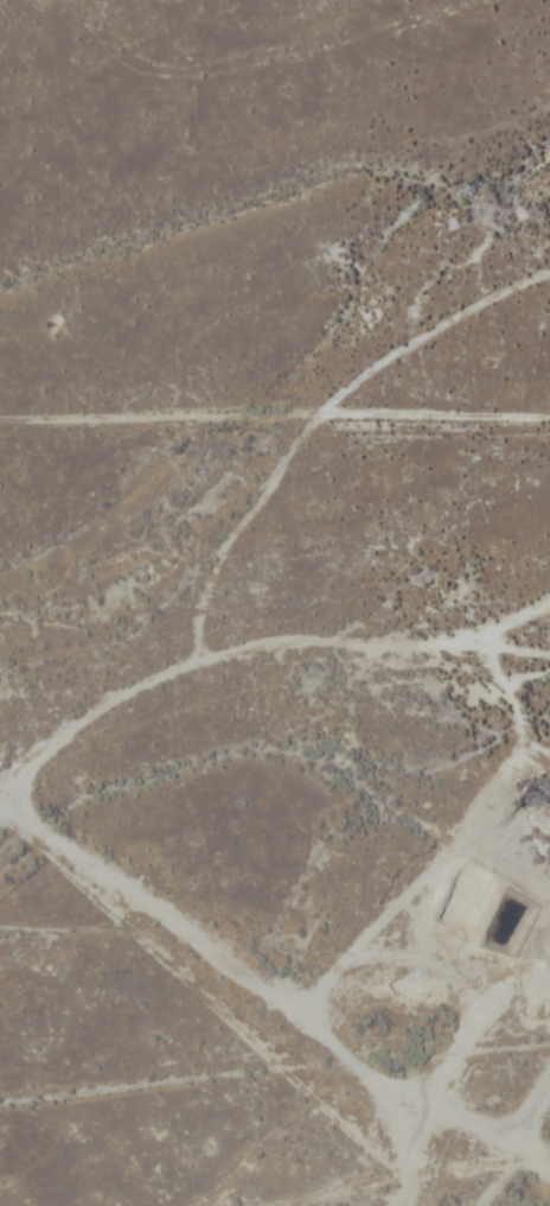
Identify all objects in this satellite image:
road: (327, 495)

